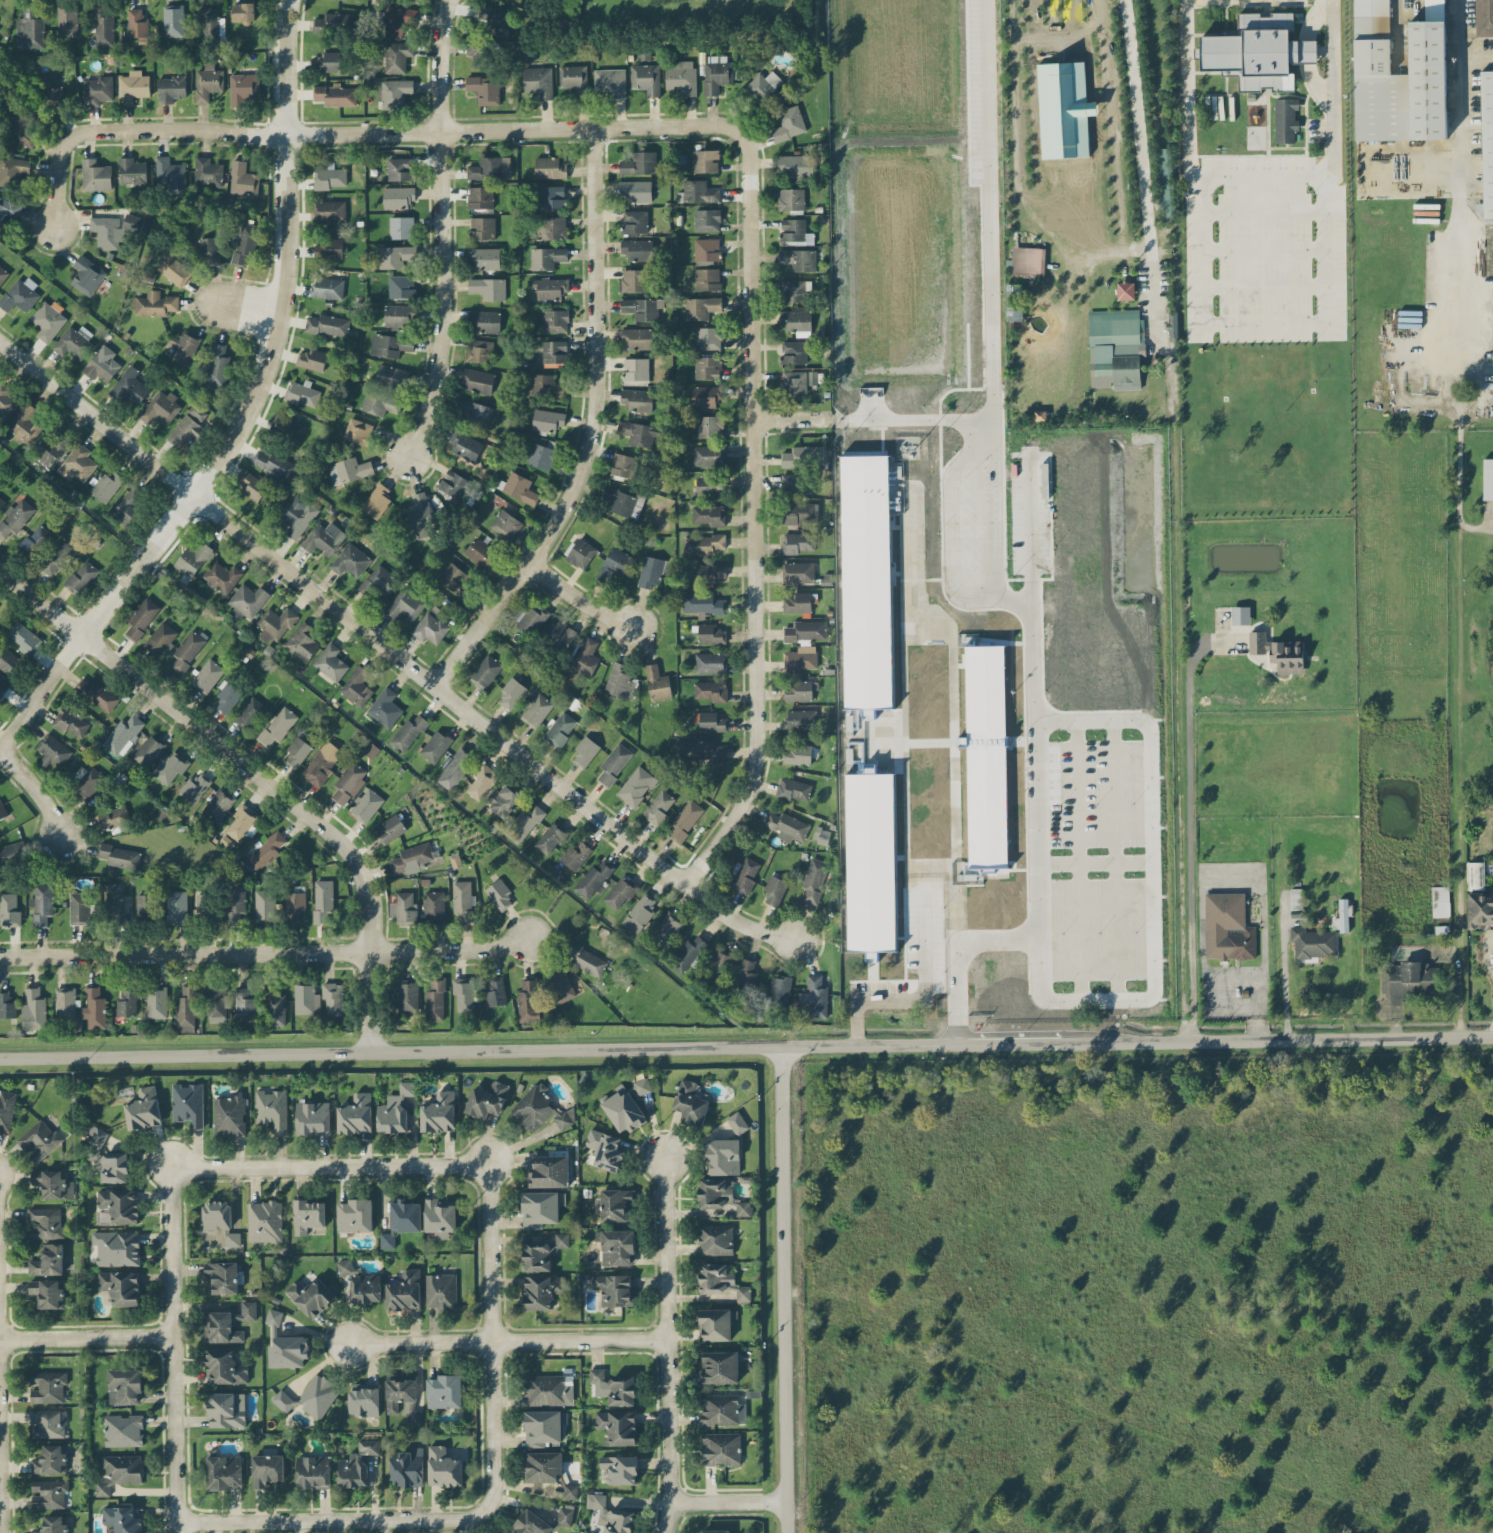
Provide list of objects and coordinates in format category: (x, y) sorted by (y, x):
building: (243, 11)
road: (1012, 16)
building: (496, 17)
road: (1312, 17)
building: (1484, 17)
building: (398, 19)
building: (67, 20)
building: (173, 20)
building: (334, 22)
building: (210, 23)
road: (1092, 23)
building: (138, 25)
building: (103, 28)
building: (30, 29)
building: (1257, 51)
road: (1306, 52)
building: (479, 53)
building: (397, 56)
building: (327, 62)
building: (716, 75)
building: (1399, 75)
building: (681, 77)
building: (574, 78)
building: (646, 78)
building: (538, 81)
building: (610, 81)
building: (207, 82)
road: (1315, 84)
building: (133, 86)
building: (171, 87)
building: (243, 88)
building: (484, 89)
building: (97, 90)
building: (763, 91)
building: (54, 93)
building: (393, 93)
building: (334, 94)
building: (1285, 119)
building: (788, 123)
road: (1113, 124)
building: (18, 127)
road: (366, 136)
building: (1487, 140)
road: (1458, 142)
building: (705, 161)
building: (639, 163)
building: (795, 165)
building: (490, 167)
building: (549, 167)
building: (399, 168)
building: (13, 170)
building: (131, 171)
building: (207, 171)
building: (169, 173)
building: (95, 175)
road: (1260, 175)
road: (1144, 177)
building: (243, 179)
building: (1165, 182)
building: (636, 190)
building: (698, 192)
building: (552, 196)
building: (397, 197)
building: (480, 197)
building: (791, 199)
building: (8, 210)
building: (329, 210)
building: (706, 219)
building: (634, 221)
building: (401, 227)
building: (482, 227)
building: (554, 227)
building: (114, 229)
road: (1102, 231)
road: (446, 232)
building: (795, 232)
building: (1034, 239)
building: (243, 245)
building: (328, 248)
building: (637, 249)
building: (706, 249)
road: (1123, 249)
building: (208, 250)
building: (394, 255)
building: (546, 257)
building: (483, 258)
building: (799, 259)
building: (1028, 260)
building: (174, 269)
building: (3, 274)
building: (86, 275)
building: (707, 278)
building: (634, 280)
building: (401, 286)
building: (327, 287)
building: (550, 287)
building: (488, 288)
building: (793, 290)
building: (1125, 290)
building: (20, 294)
building: (1014, 301)
building: (154, 304)
building: (701, 307)
building: (644, 308)
parking lot: (1152, 308)
road: (250, 310)
building: (399, 316)
building: (555, 320)
building: (796, 320)
building: (47, 321)
building: (485, 321)
building: (327, 325)
building: (1172, 325)
building: (1114, 329)
building: (638, 338)
building: (708, 338)
building: (74, 341)
building: (390, 344)
building: (184, 346)
building: (478, 350)
building: (1126, 350)
building: (1172, 351)
building: (554, 352)
building: (793, 352)
building: (311, 359)
building: (102, 364)
building: (217, 366)
building: (706, 367)
road: (989, 367)
building: (635, 370)
building: (1126, 370)
building: (1104, 371)
building: (390, 376)
building: (813, 377)
building: (476, 380)
building: (793, 382)
building: (131, 385)
building: (546, 385)
building: (301, 392)
building: (706, 396)
building: (637, 399)
building: (7, 400)
building: (378, 402)
building: (160, 407)
building: (196, 412)
road: (249, 412)
building: (475, 412)
building: (1084, 413)
building: (1040, 414)
road: (795, 417)
building: (547, 420)
building: (24, 424)
building: (710, 426)
building: (287, 428)
building: (356, 430)
building: (183, 431)
road: (595, 431)
building: (637, 433)
building: (944, 443)
building: (465, 445)
building: (52, 446)
building: (542, 454)
building: (708, 455)
building: (803, 455)
building: (77, 463)
building: (275, 465)
building: (622, 466)
building: (349, 470)
building: (1488, 478)
building: (796, 482)
building: (452, 483)
building: (105, 485)
building: (252, 485)
building: (708, 485)
building: (518, 487)
building: (620, 500)
building: (1, 501)
building: (377, 501)
building: (127, 505)
building: (296, 511)
building: (709, 514)
building: (800, 514)
building: (421, 516)
building: (15, 517)
road: (759, 519)
building: (505, 524)
building: (324, 538)
building: (36, 541)
building: (798, 542)
building: (703, 544)
building: (481, 552)
building: (581, 553)
building: (60, 554)
building: (192, 559)
building: (350, 560)
building: (613, 564)
building: (650, 572)
building: (711, 572)
building: (798, 572)
building: (81, 576)
building: (222, 576)
building: (453, 578)
building: (377, 581)
building: (866, 581)
road: (580, 600)
building: (247, 601)
building: (797, 602)
building: (703, 603)
building: (406, 605)
building: (531, 617)
building: (141, 618)
building: (275, 624)
building: (430, 628)
building: (805, 630)
building: (711, 633)
building: (561, 634)
building: (24, 638)
building: (160, 639)
building: (301, 641)
building: (187, 650)
road: (392, 651)
building: (1278, 652)
building: (800, 658)
building: (8, 660)
building: (584, 660)
building: (330, 662)
building: (710, 662)
building: (485, 671)
building: (207, 675)
building: (620, 681)
building: (657, 683)
building: (356, 686)
building: (2, 688)
building: (711, 690)
building: (799, 690)
building: (511, 692)
building: (97, 694)
building: (227, 696)
building: (385, 707)
building: (536, 709)
building: (250, 713)
building: (800, 720)
building: (71, 721)
building: (711, 722)
road: (1464, 725)
building: (277, 726)
building: (559, 728)
building: (408, 732)
building: (123, 734)
road: (219, 742)
building: (435, 746)
building: (149, 750)
building: (371, 750)
building: (698, 750)
building: (53, 751)
building: (297, 751)
building: (585, 751)
building: (798, 754)
building: (986, 756)
building: (613, 764)
building: (319, 766)
building: (170, 767)
building: (454, 768)
building: (86, 780)
building: (481, 781)
building: (348, 782)
building: (195, 786)
building: (636, 786)
road: (38, 787)
building: (793, 789)
building: (503, 800)
building: (218, 804)
building: (366, 805)
building: (658, 806)
building: (2, 810)
building: (113, 819)
building: (685, 820)
building: (241, 821)
building: (523, 823)
building: (787, 826)
building: (391, 828)
building: (551, 837)
road: (1189, 839)
building: (266, 850)
building: (12, 851)
building: (576, 854)
building: (119, 855)
building: (412, 858)
building: (870, 862)
building: (744, 874)
building: (1475, 875)
building: (594, 878)
road: (1234, 878)
building: (813, 879)
building: (774, 890)
building: (620, 892)
building: (499, 894)
building: (1296, 898)
building: (322, 899)
building: (463, 899)
building: (235, 901)
building: (1440, 901)
building: (115, 903)
building: (42, 904)
building: (146, 905)
building: (264, 905)
building: (294, 905)
building: (205, 906)
building: (433, 906)
building: (79, 907)
building: (176, 907)
building: (403, 908)
building: (1480, 908)
building: (9, 909)
building: (640, 912)
building: (1341, 916)
building: (1227, 927)
building: (666, 928)
road: (996, 939)
building: (1313, 942)
road: (265, 951)
building: (588, 960)
building: (719, 964)
road: (957, 968)
building: (745, 971)
building: (1407, 980)
building: (560, 986)
building: (780, 988)
road: (1284, 990)
building: (495, 991)
building: (463, 993)
building: (407, 995)
building: (817, 995)
road: (1146, 995)
building: (333, 998)
building: (306, 999)
road: (886, 999)
building: (244, 1000)
building: (435, 1000)
building: (528, 1000)
building: (65, 1002)
building: (156, 1002)
road: (377, 1002)
building: (126, 1003)
building: (215, 1004)
road: (1217, 1004)
building: (7, 1005)
building: (275, 1007)
building: (94, 1008)
building: (33, 1009)
building: (186, 1009)
road: (746, 1046)
building: (487, 1099)
building: (691, 1102)
building: (188, 1104)
building: (144, 1109)
building: (271, 1109)
building: (394, 1109)
building: (6, 1110)
building: (541, 1110)
building: (623, 1110)
building: (438, 1113)
building: (229, 1114)
building: (355, 1114)
building: (312, 1118)
building: (737, 1122)
building: (39, 1140)
building: (605, 1150)
building: (723, 1156)
building: (107, 1157)
road: (330, 1165)
building: (549, 1168)
building: (53, 1183)
building: (716, 1192)
building: (614, 1205)
building: (117, 1206)
building: (540, 1208)
building: (743, 1208)
building: (217, 1214)
building: (308, 1215)
building: (355, 1215)
building: (440, 1217)
building: (264, 1221)
building: (401, 1221)
building: (45, 1223)
building: (232, 1238)
building: (716, 1239)
building: (561, 1240)
building: (617, 1247)
building: (117, 1248)
building: (536, 1255)
building: (48, 1260)
building: (223, 1276)
building: (721, 1281)
building: (360, 1282)
building: (121, 1286)
building: (614, 1289)
road: (784, 1289)
building: (404, 1291)
building: (441, 1291)
building: (541, 1291)
building: (47, 1292)
building: (311, 1296)
building: (246, 1311)
building: (272, 1316)
building: (716, 1324)
building: (221, 1327)
road: (491, 1334)
road: (86, 1338)
road: (507, 1341)
road: (667, 1344)
road: (172, 1350)
building: (288, 1351)
building: (225, 1367)
building: (720, 1367)
building: (125, 1386)
building: (48, 1387)
building: (613, 1387)
building: (549, 1390)
building: (444, 1391)
building: (310, 1396)
building: (364, 1399)
building: (403, 1399)
building: (226, 1409)
building: (722, 1409)
building: (46, 1423)
building: (617, 1426)
building: (543, 1427)
building: (123, 1430)
building: (721, 1448)
building: (50, 1460)
building: (356, 1465)
building: (407, 1467)
building: (443, 1467)
building: (543, 1467)
building: (267, 1469)
building: (620, 1469)
building: (120, 1471)
building: (223, 1471)
building: (313, 1471)
building: (570, 1491)
building: (49, 1493)
road: (726, 1501)
building: (564, 1515)
building: (610, 1515)
building: (121, 1520)
road: (334, 1521)
building: (54, 1524)
building: (531, 1524)
building: (714, 1531)

